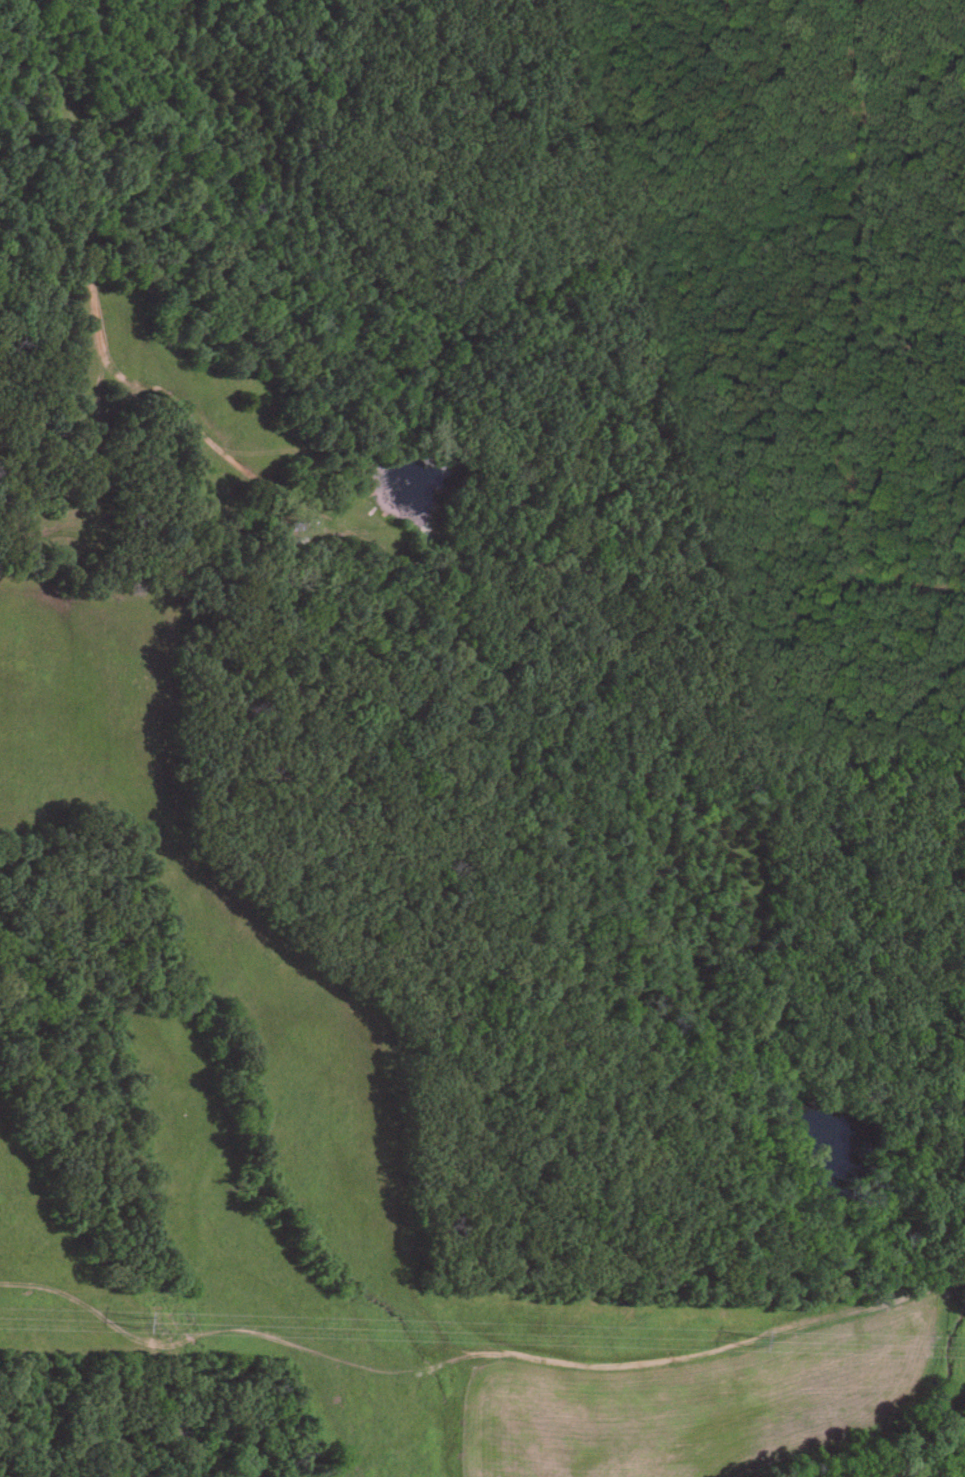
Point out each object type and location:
power tower: (131, 1321)
power tower: (720, 1341)

